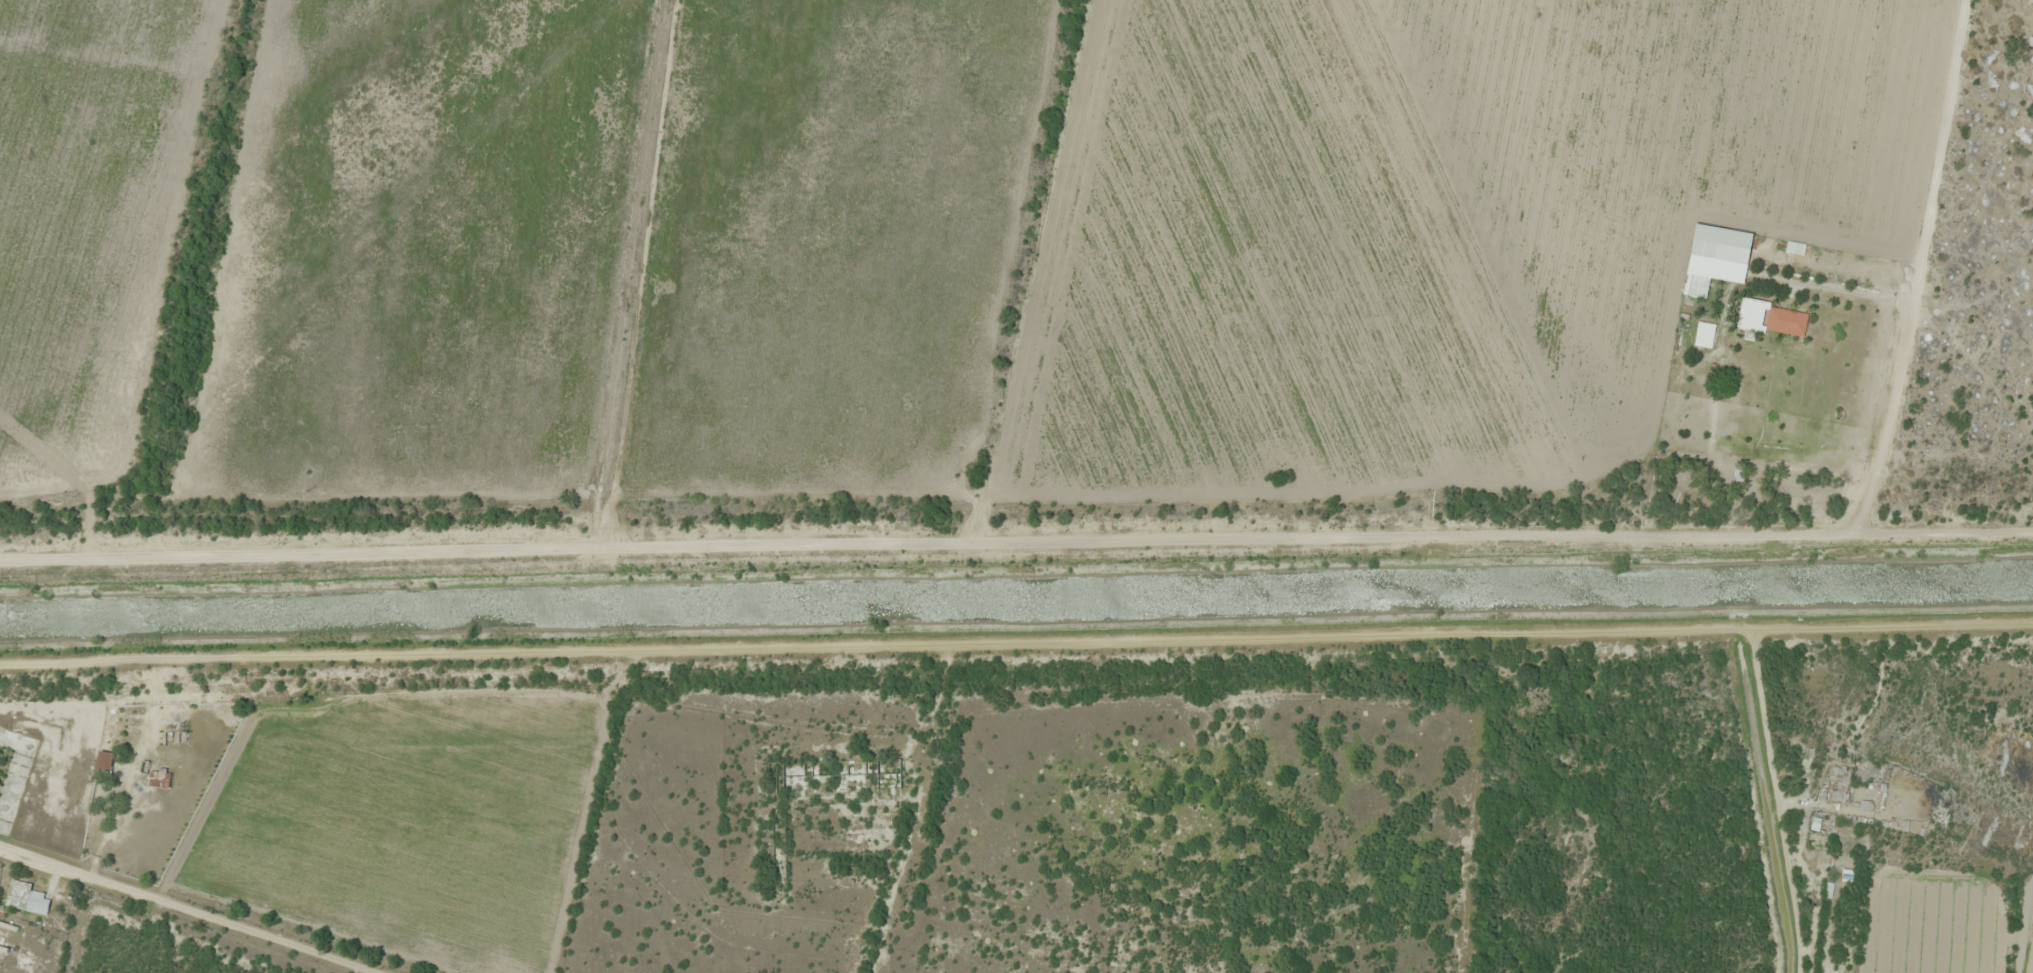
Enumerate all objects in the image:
road: (1919, 267)
road: (1016, 540)
road: (1016, 640)

